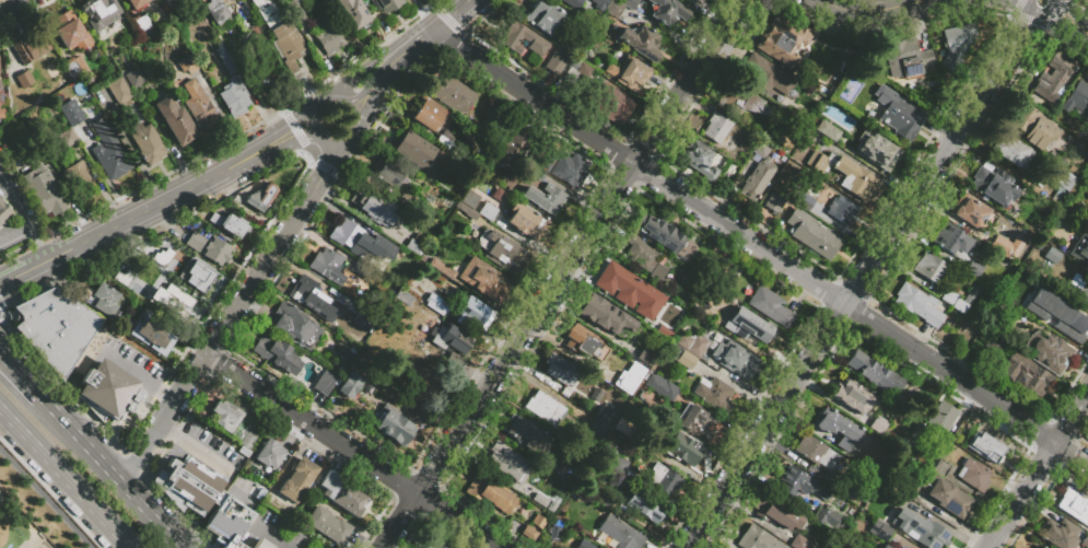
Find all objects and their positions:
building: (293, 0)
road: (1040, 0)
building: (690, 1)
building: (136, 3)
building: (573, 3)
building: (629, 3)
building: (388, 4)
building: (599, 4)
road: (12, 7)
building: (613, 9)
building: (667, 11)
building: (100, 12)
building: (217, 12)
road: (875, 12)
road: (1064, 12)
building: (300, 13)
building: (353, 13)
road: (449, 15)
building: (541, 16)
building: (248, 23)
building: (141, 25)
building: (71, 32)
building: (280, 33)
road: (1019, 37)
building: (329, 39)
building: (508, 39)
building: (780, 39)
building: (640, 42)
building: (956, 43)
road: (411, 46)
building: (30, 47)
building: (909, 56)
building: (226, 59)
building: (557, 61)
building: (187, 63)
building: (72, 66)
building: (628, 72)
building: (571, 74)
building: (769, 75)
building: (87, 78)
building: (134, 78)
building: (24, 79)
road: (687, 81)
building: (1051, 81)
road: (373, 84)
building: (119, 91)
building: (454, 94)
road: (533, 96)
building: (234, 97)
building: (1077, 98)
building: (740, 100)
building: (196, 103)
building: (610, 104)
road: (352, 105)
building: (3, 113)
building: (71, 113)
building: (899, 113)
building: (426, 115)
building: (174, 120)
road: (295, 121)
building: (715, 128)
building: (1033, 128)
building: (828, 130)
building: (447, 135)
road: (304, 136)
building: (67, 138)
building: (147, 143)
building: (445, 143)
building: (510, 144)
road: (272, 150)
building: (414, 150)
building: (876, 150)
road: (245, 151)
building: (1013, 151)
building: (109, 152)
building: (701, 161)
building: (545, 163)
road: (238, 166)
road: (323, 170)
building: (570, 171)
building: (534, 172)
building: (758, 172)
building: (74, 174)
building: (388, 175)
building: (851, 177)
building: (506, 178)
building: (1061, 180)
building: (811, 187)
building: (993, 187)
building: (44, 190)
building: (496, 194)
building: (260, 197)
building: (545, 198)
building: (469, 199)
building: (407, 200)
road: (16, 202)
building: (774, 202)
building: (806, 202)
building: (837, 206)
building: (367, 208)
building: (3, 211)
building: (487, 211)
building: (970, 211)
road: (136, 214)
building: (526, 222)
building: (229, 224)
building: (662, 233)
building: (811, 234)
road: (16, 238)
building: (195, 241)
building: (952, 241)
building: (360, 242)
road: (40, 244)
building: (1006, 244)
building: (499, 249)
building: (217, 250)
building: (1080, 250)
building: (1052, 255)
building: (643, 257)
building: (163, 260)
building: (328, 265)
building: (929, 267)
building: (360, 269)
building: (444, 269)
road: (25, 270)
building: (972, 270)
building: (196, 275)
road: (2, 276)
road: (258, 277)
building: (482, 279)
building: (1015, 282)
building: (138, 287)
building: (1079, 287)
building: (629, 291)
building: (970, 293)
building: (1040, 294)
building: (948, 296)
building: (101, 299)
building: (311, 299)
building: (442, 303)
building: (179, 304)
building: (916, 304)
building: (348, 306)
building: (770, 306)
road: (841, 310)
building: (134, 312)
building: (479, 312)
road: (859, 313)
building: (605, 315)
building: (292, 323)
building: (1063, 323)
building: (748, 325)
building: (59, 331)
building: (152, 331)
building: (664, 333)
building: (451, 339)
building: (584, 342)
building: (692, 343)
building: (712, 345)
building: (993, 346)
building: (277, 353)
building: (1050, 353)
building: (646, 354)
road: (507, 355)
building: (736, 359)
building: (686, 360)
road: (202, 363)
building: (560, 370)
building: (642, 371)
road: (132, 372)
building: (874, 372)
road: (195, 373)
road: (22, 374)
building: (1026, 374)
road: (191, 378)
building: (325, 383)
building: (627, 383)
building: (350, 385)
building: (662, 387)
building: (107, 388)
building: (714, 394)
road: (167, 395)
building: (851, 395)
road: (174, 403)
building: (543, 409)
building: (606, 415)
road: (5, 416)
building: (225, 416)
building: (941, 418)
building: (694, 422)
building: (877, 425)
road: (70, 427)
building: (395, 428)
building: (597, 428)
building: (622, 428)
building: (835, 428)
road: (167, 429)
building: (238, 433)
building: (525, 433)
building: (248, 440)
building: (984, 447)
building: (278, 448)
building: (683, 448)
road: (354, 451)
road: (139, 452)
building: (815, 452)
road: (203, 454)
building: (610, 457)
building: (505, 458)
building: (676, 465)
building: (554, 467)
building: (271, 468)
building: (940, 468)
road: (1038, 471)
building: (690, 475)
building: (973, 475)
building: (664, 478)
road: (119, 480)
building: (297, 480)
building: (797, 482)
road: (68, 485)
building: (189, 486)
building: (903, 486)
building: (528, 490)
building: (850, 490)
building: (490, 492)
building: (245, 493)
building: (341, 493)
road: (47, 497)
building: (948, 498)
building: (605, 499)
road: (241, 502)
building: (1073, 504)
building: (643, 506)
building: (776, 512)
road: (215, 513)
building: (826, 517)
building: (538, 522)
building: (327, 525)
road: (161, 526)
building: (920, 529)
building: (879, 530)
building: (620, 533)
building: (1058, 533)
building: (528, 534)
road: (197, 539)
building: (757, 539)
building: (798, 541)
building: (1085, 543)
building: (261, 544)
building: (584, 545)
building: (236, 546)
building: (434, 546)
building: (881, 546)
building: (1037, 546)
building: (899, 547)
building: (902, 547)

